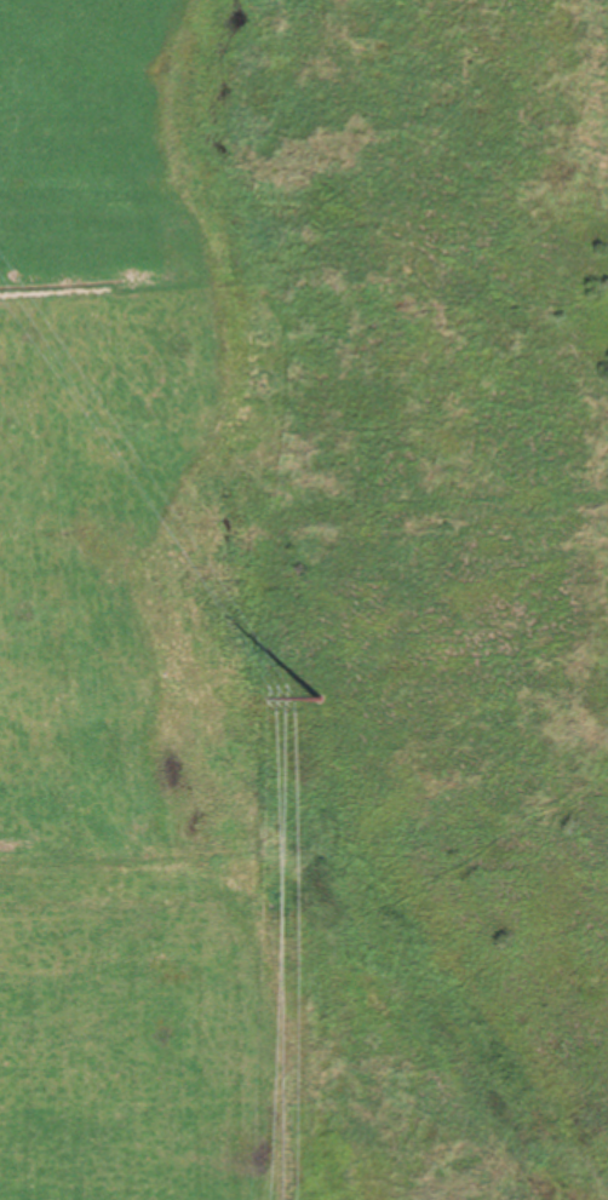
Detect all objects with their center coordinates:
power tower: (316, 701)

